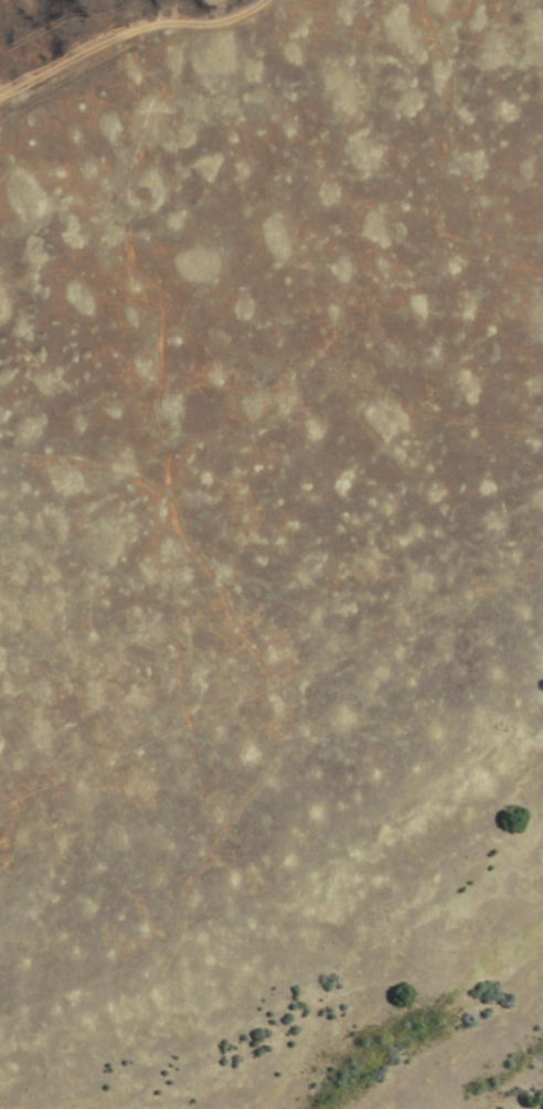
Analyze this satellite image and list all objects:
road: (126, 28)
road: (290, 873)

